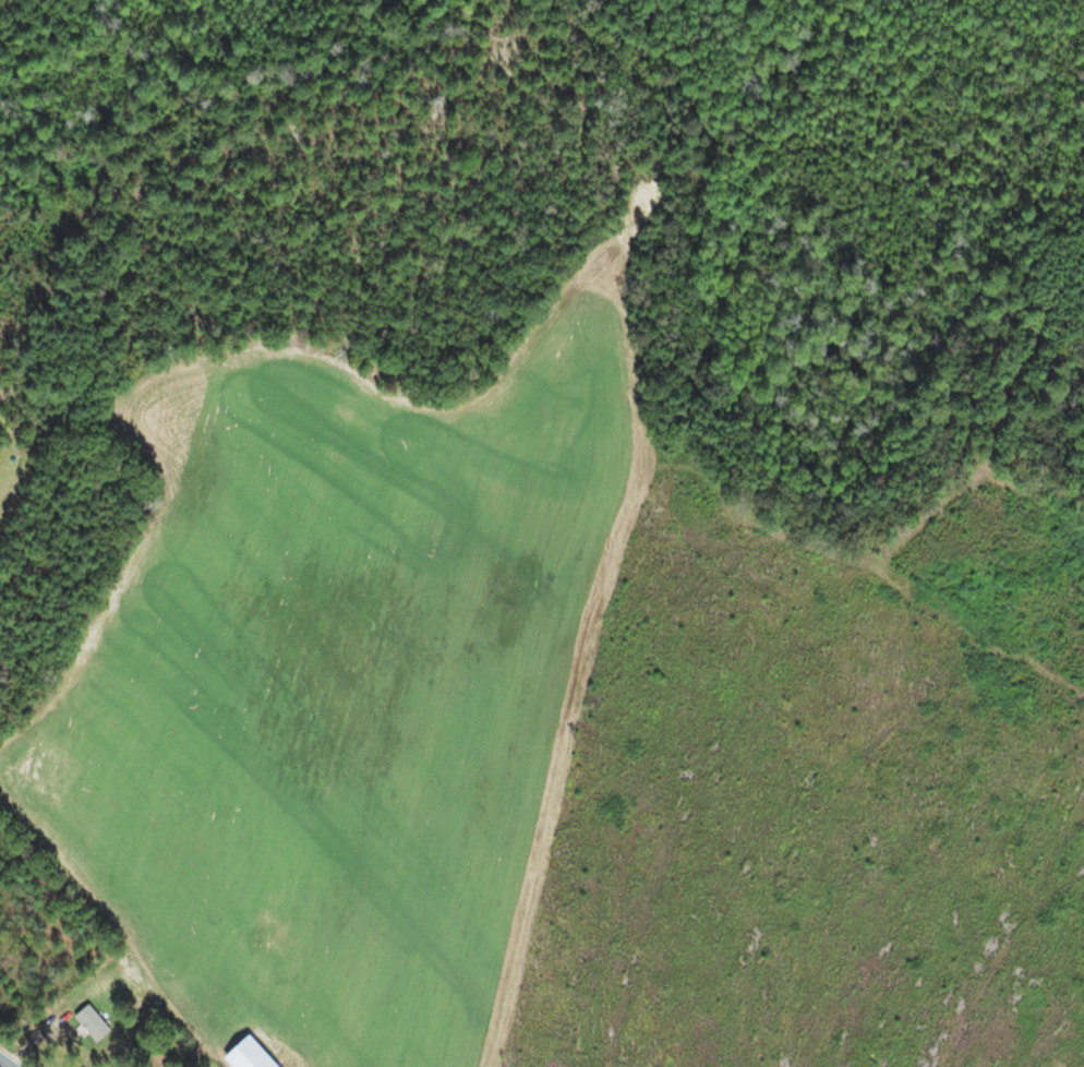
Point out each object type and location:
road: (7, 1062)

